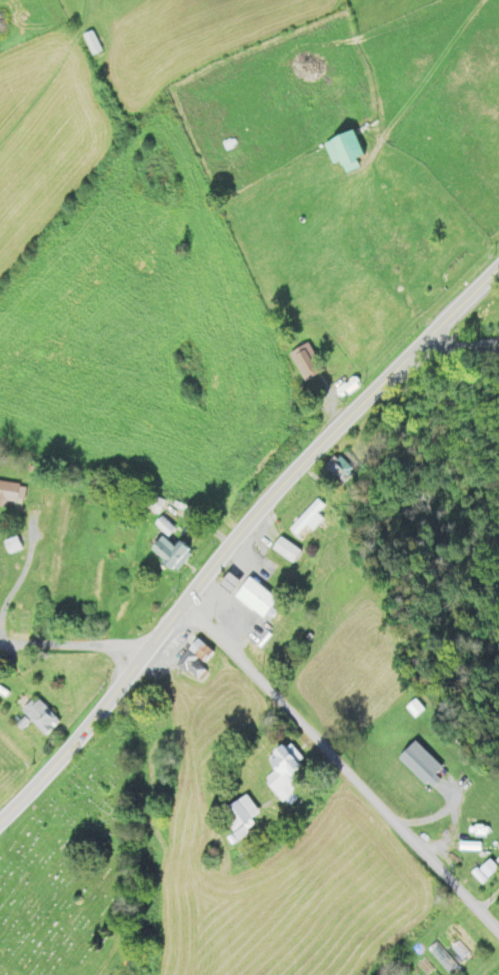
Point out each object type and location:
road: (401, 113)
building: (342, 151)
building: (489, 318)
road: (460, 348)
building: (308, 362)
building: (334, 473)
building: (11, 493)
building: (151, 504)
building: (311, 516)
building: (163, 527)
road: (243, 541)
building: (291, 550)
building: (173, 551)
building: (262, 600)
road: (70, 643)
building: (199, 652)
building: (195, 671)
building: (419, 709)
building: (39, 717)
building: (424, 767)
building: (291, 773)
road: (341, 776)
building: (244, 812)
building: (234, 822)
building: (471, 849)
park: (72, 873)
road: (107, 952)

